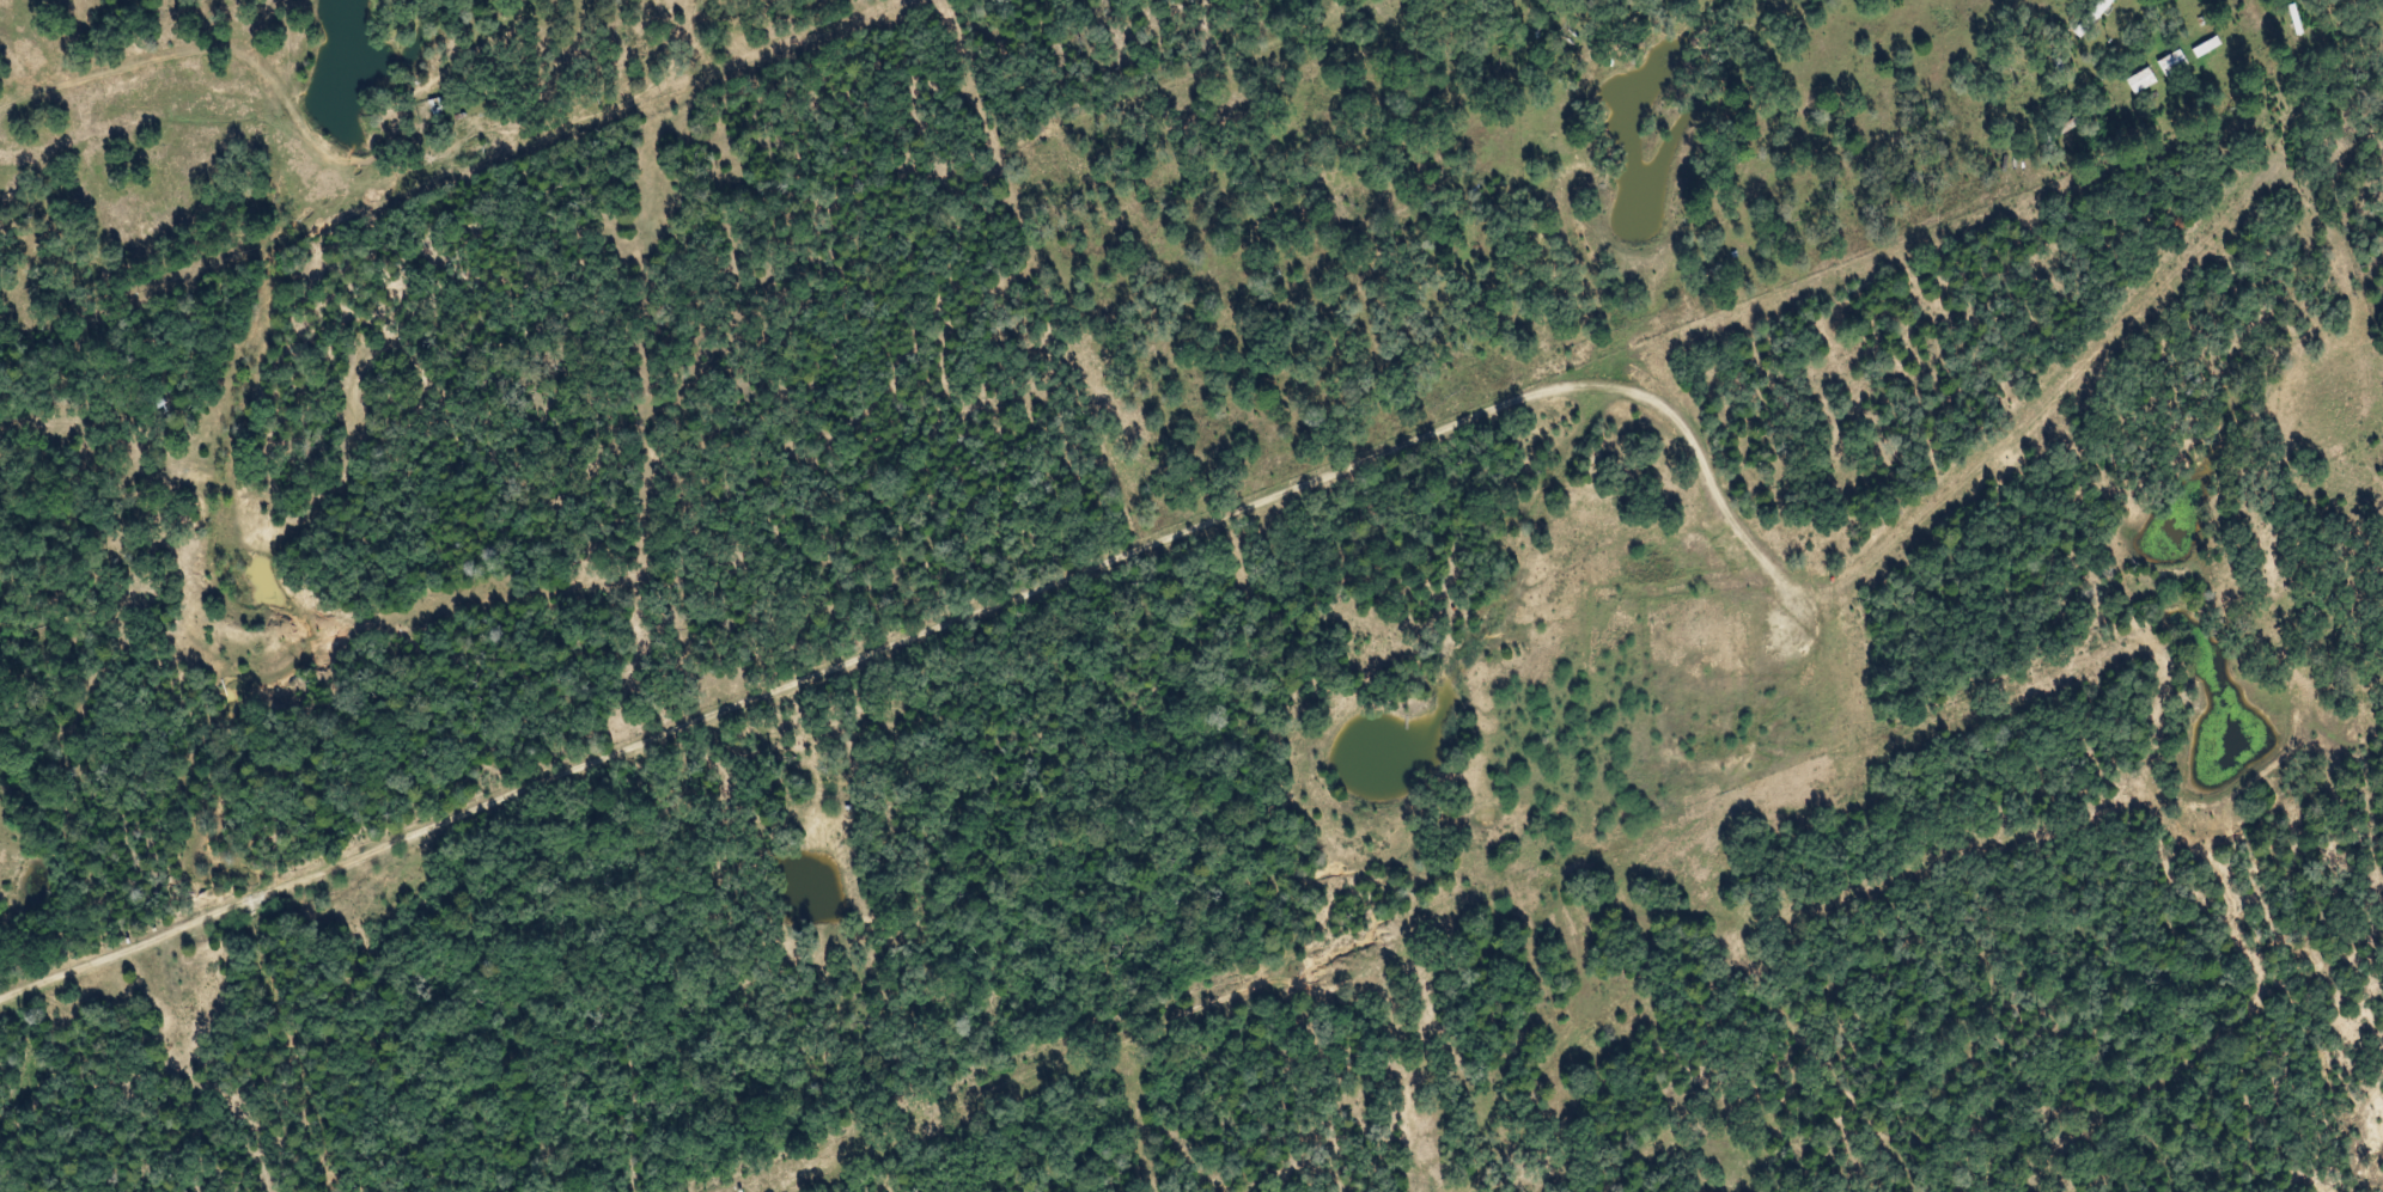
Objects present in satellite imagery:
building: (2080, 16)
building: (2196, 45)
building: (2162, 62)
building: (2131, 80)
building: (440, 109)
road: (1129, 525)

